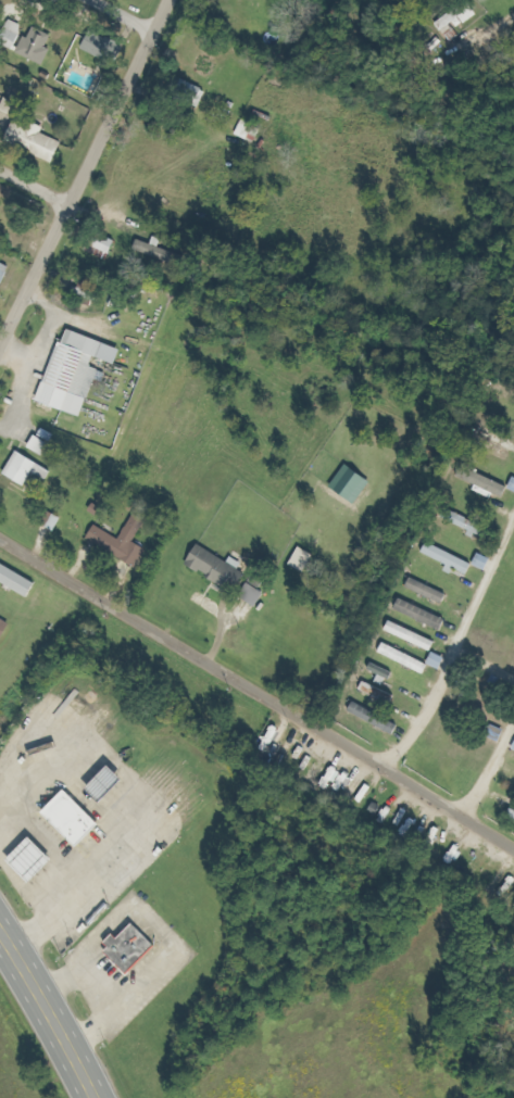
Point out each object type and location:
building: (460, 16)
road: (114, 17)
building: (13, 34)
building: (37, 47)
building: (103, 48)
building: (188, 93)
building: (39, 139)
road: (86, 176)
road: (37, 187)
building: (105, 247)
building: (5, 273)
building: (93, 290)
building: (82, 371)
building: (30, 469)
building: (487, 482)
building: (358, 483)
building: (473, 523)
building: (127, 541)
building: (306, 559)
building: (454, 559)
building: (216, 565)
building: (21, 580)
building: (242, 580)
building: (430, 591)
building: (256, 595)
building: (426, 615)
building: (7, 626)
building: (416, 636)
railway: (256, 657)
building: (409, 659)
building: (442, 660)
building: (385, 674)
building: (381, 693)
road: (258, 696)
road: (473, 711)
building: (378, 718)
building: (79, 819)
building: (39, 861)
building: (136, 949)
road: (48, 1012)

